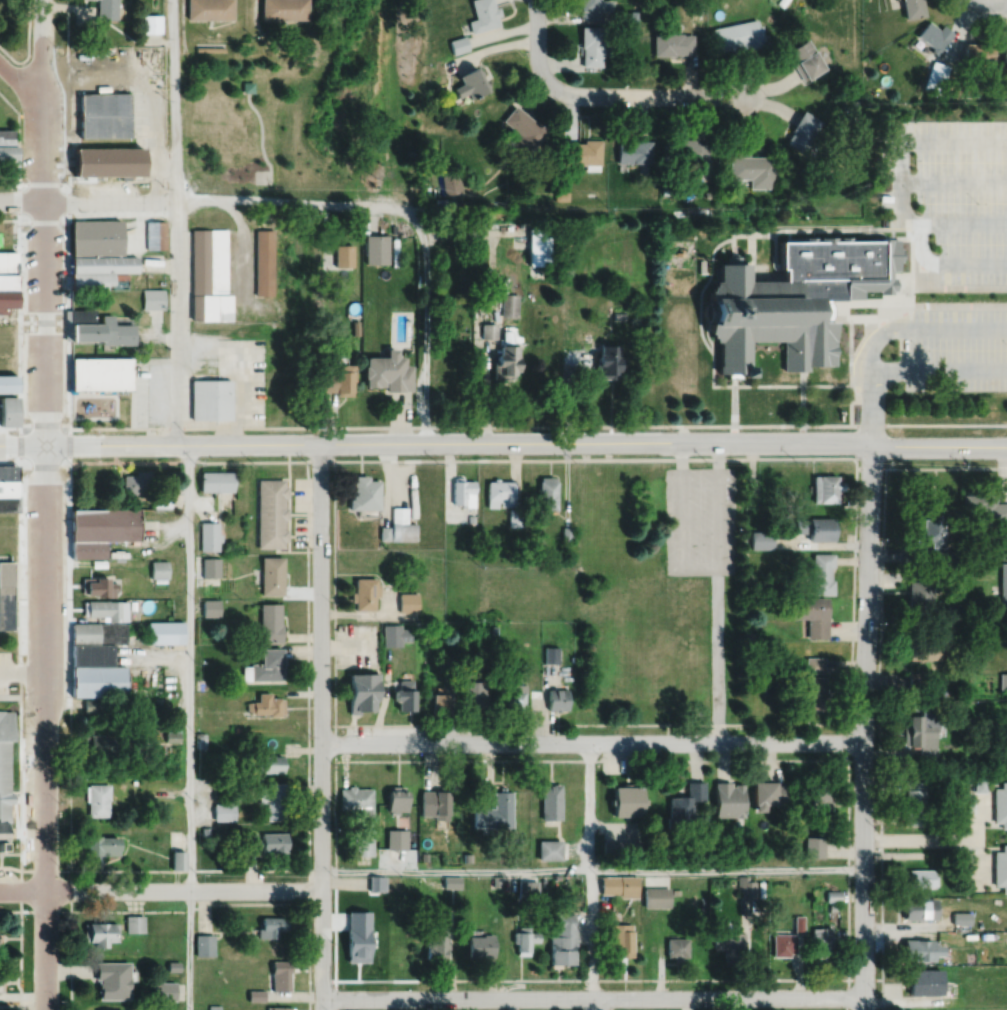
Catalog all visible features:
building: (782, 2)
road: (986, 3)
building: (697, 6)
building: (593, 8)
building: (914, 8)
building: (106, 9)
building: (209, 9)
building: (284, 10)
road: (976, 14)
building: (482, 15)
building: (633, 16)
building: (151, 23)
building: (633, 30)
building: (738, 35)
building: (935, 36)
road: (27, 44)
building: (458, 44)
building: (672, 44)
building: (591, 45)
building: (210, 48)
building: (978, 49)
building: (1005, 53)
building: (807, 60)
building: (82, 72)
building: (937, 76)
road: (21, 84)
building: (469, 84)
building: (246, 86)
building: (955, 86)
road: (601, 95)
road: (173, 99)
building: (854, 103)
building: (846, 106)
building: (105, 116)
building: (803, 128)
building: (522, 130)
park: (251, 131)
road: (260, 141)
building: (7, 143)
building: (632, 148)
building: (683, 149)
building: (585, 154)
building: (109, 162)
building: (754, 167)
road: (256, 175)
road: (900, 179)
road: (953, 180)
building: (450, 182)
road: (42, 187)
building: (426, 189)
building: (665, 189)
parking lot: (950, 194)
building: (561, 196)
road: (199, 199)
building: (441, 200)
road: (66, 213)
building: (693, 213)
road: (32, 218)
road: (42, 221)
park: (7, 233)
building: (154, 233)
building: (94, 235)
road: (732, 241)
road: (750, 243)
building: (539, 244)
building: (376, 247)
building: (720, 248)
road: (774, 252)
building: (343, 254)
road: (18, 256)
building: (208, 259)
building: (7, 260)
building: (263, 260)
road: (158, 261)
building: (102, 262)
road: (946, 262)
building: (699, 264)
road: (911, 264)
road: (710, 270)
road: (750, 270)
road: (766, 274)
building: (89, 278)
building: (580, 278)
building: (7, 279)
road: (903, 279)
road: (959, 286)
building: (793, 296)
building: (151, 297)
building: (6, 298)
road: (833, 299)
road: (851, 299)
building: (509, 303)
road: (959, 304)
building: (210, 305)
building: (618, 314)
road: (869, 316)
road: (426, 319)
building: (602, 319)
road: (176, 321)
road: (874, 323)
building: (355, 326)
building: (98, 327)
road: (952, 328)
building: (487, 329)
building: (506, 334)
road: (709, 340)
parking lot: (954, 347)
building: (683, 348)
building: (485, 354)
building: (504, 360)
building: (607, 360)
road: (884, 367)
road: (952, 367)
building: (387, 370)
building: (99, 372)
building: (340, 378)
road: (871, 378)
building: (8, 382)
road: (832, 384)
parking lot: (151, 390)
road: (802, 396)
building: (211, 398)
road: (850, 404)
building: (8, 409)
road: (503, 425)
road: (503, 441)
road: (704, 458)
building: (8, 471)
building: (216, 480)
building: (136, 481)
building: (8, 487)
building: (825, 487)
building: (460, 489)
building: (363, 492)
building: (499, 492)
building: (546, 492)
building: (161, 500)
building: (412, 501)
building: (8, 502)
building: (982, 508)
building: (271, 512)
building: (514, 516)
building: (470, 517)
parking lot: (699, 519)
road: (681, 521)
building: (401, 524)
building: (815, 527)
building: (100, 529)
building: (383, 532)
building: (566, 533)
building: (209, 535)
building: (761, 539)
building: (928, 541)
building: (952, 555)
building: (210, 566)
building: (158, 569)
building: (821, 573)
building: (272, 575)
building: (1003, 583)
building: (97, 586)
road: (717, 590)
building: (921, 590)
building: (6, 592)
building: (363, 593)
building: (407, 601)
building: (131, 604)
building: (210, 607)
building: (105, 609)
building: (955, 611)
building: (811, 613)
building: (269, 623)
building: (493, 629)
building: (164, 631)
building: (98, 633)
building: (393, 634)
building: (748, 635)
building: (923, 651)
building: (91, 654)
building: (551, 654)
building: (815, 664)
building: (976, 664)
building: (264, 666)
building: (447, 667)
parking lot: (4, 670)
road: (22, 672)
building: (468, 677)
building: (97, 680)
building: (917, 680)
building: (1003, 681)
building: (361, 691)
building: (817, 692)
building: (943, 693)
building: (403, 695)
building: (475, 695)
building: (516, 697)
building: (557, 699)
building: (156, 700)
building: (438, 700)
building: (91, 705)
building: (266, 705)
building: (961, 707)
road: (320, 725)
road: (44, 726)
road: (189, 726)
road: (863, 726)
building: (172, 729)
building: (919, 738)
building: (200, 740)
road: (592, 741)
building: (102, 744)
building: (270, 764)
building: (4, 773)
building: (978, 783)
parking lot: (28, 791)
building: (767, 791)
building: (821, 793)
building: (729, 797)
building: (627, 798)
building: (96, 799)
building: (396, 799)
building: (274, 800)
building: (355, 800)
building: (550, 801)
building: (914, 803)
building: (433, 804)
building: (1000, 805)
building: (687, 807)
building: (499, 809)
building: (224, 812)
road: (976, 818)
building: (205, 830)
road: (941, 839)
building: (395, 840)
building: (263, 843)
building: (814, 845)
building: (101, 846)
building: (362, 846)
building: (621, 847)
building: (548, 850)
building: (423, 856)
building: (466, 858)
building: (177, 859)
road: (592, 868)
building: (1000, 869)
parking lot: (7, 874)
building: (557, 874)
road: (590, 876)
building: (919, 879)
building: (451, 880)
building: (495, 880)
building: (377, 882)
building: (619, 883)
building: (387, 884)
building: (411, 885)
building: (746, 886)
building: (528, 888)
road: (160, 890)
building: (676, 890)
building: (833, 894)
building: (657, 895)
building: (833, 906)
building: (919, 906)
building: (960, 916)
building: (134, 922)
building: (799, 922)
building: (271, 924)
building: (99, 931)
building: (378, 935)
building: (619, 937)
building: (524, 938)
building: (563, 938)
building: (823, 940)
building: (204, 943)
building: (729, 943)
building: (784, 943)
building: (436, 944)
building: (481, 944)
building: (676, 946)
building: (919, 948)
building: (173, 965)
building: (281, 973)
building: (112, 977)
building: (924, 980)
building: (164, 989)
building: (256, 994)
road: (592, 997)
building: (214, 1007)
building: (279, 1007)
building: (110, 1009)

